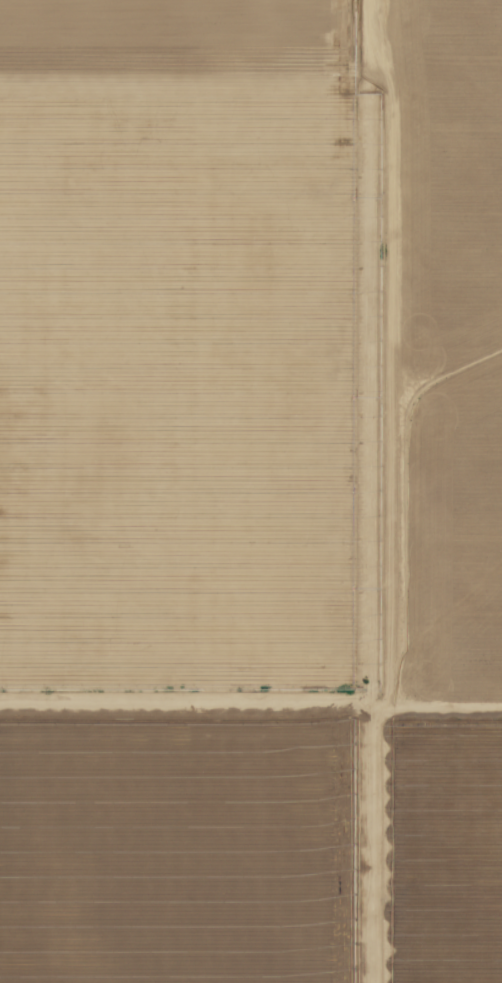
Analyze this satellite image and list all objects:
road: (364, 354)
road: (320, 706)
road: (434, 708)

